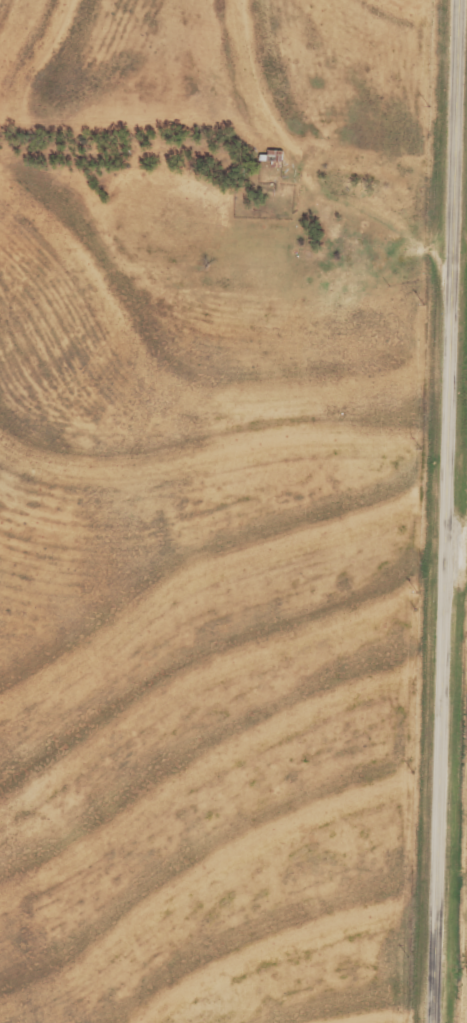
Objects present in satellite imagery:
road: (459, 480)
road: (449, 511)

